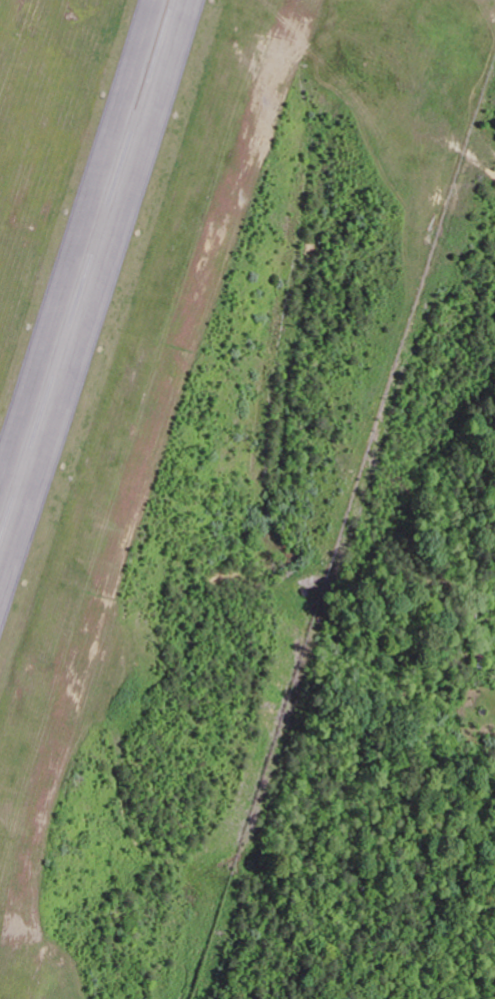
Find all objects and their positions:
airport runway: (85, 267)
airport: (200, 433)

